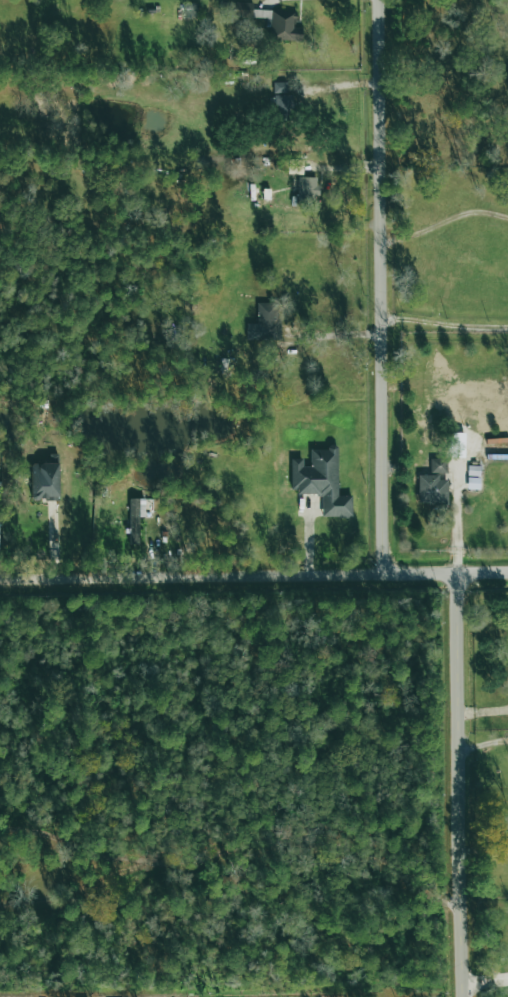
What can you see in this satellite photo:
building: (268, 21)
building: (307, 189)
road: (445, 220)
road: (382, 286)
road: (445, 322)
building: (265, 323)
road: (339, 335)
building: (44, 481)
building: (320, 482)
building: (433, 482)
building: (135, 518)
road: (458, 518)
road: (253, 575)
building: (507, 680)
road: (483, 743)
road: (459, 784)
road: (486, 982)

